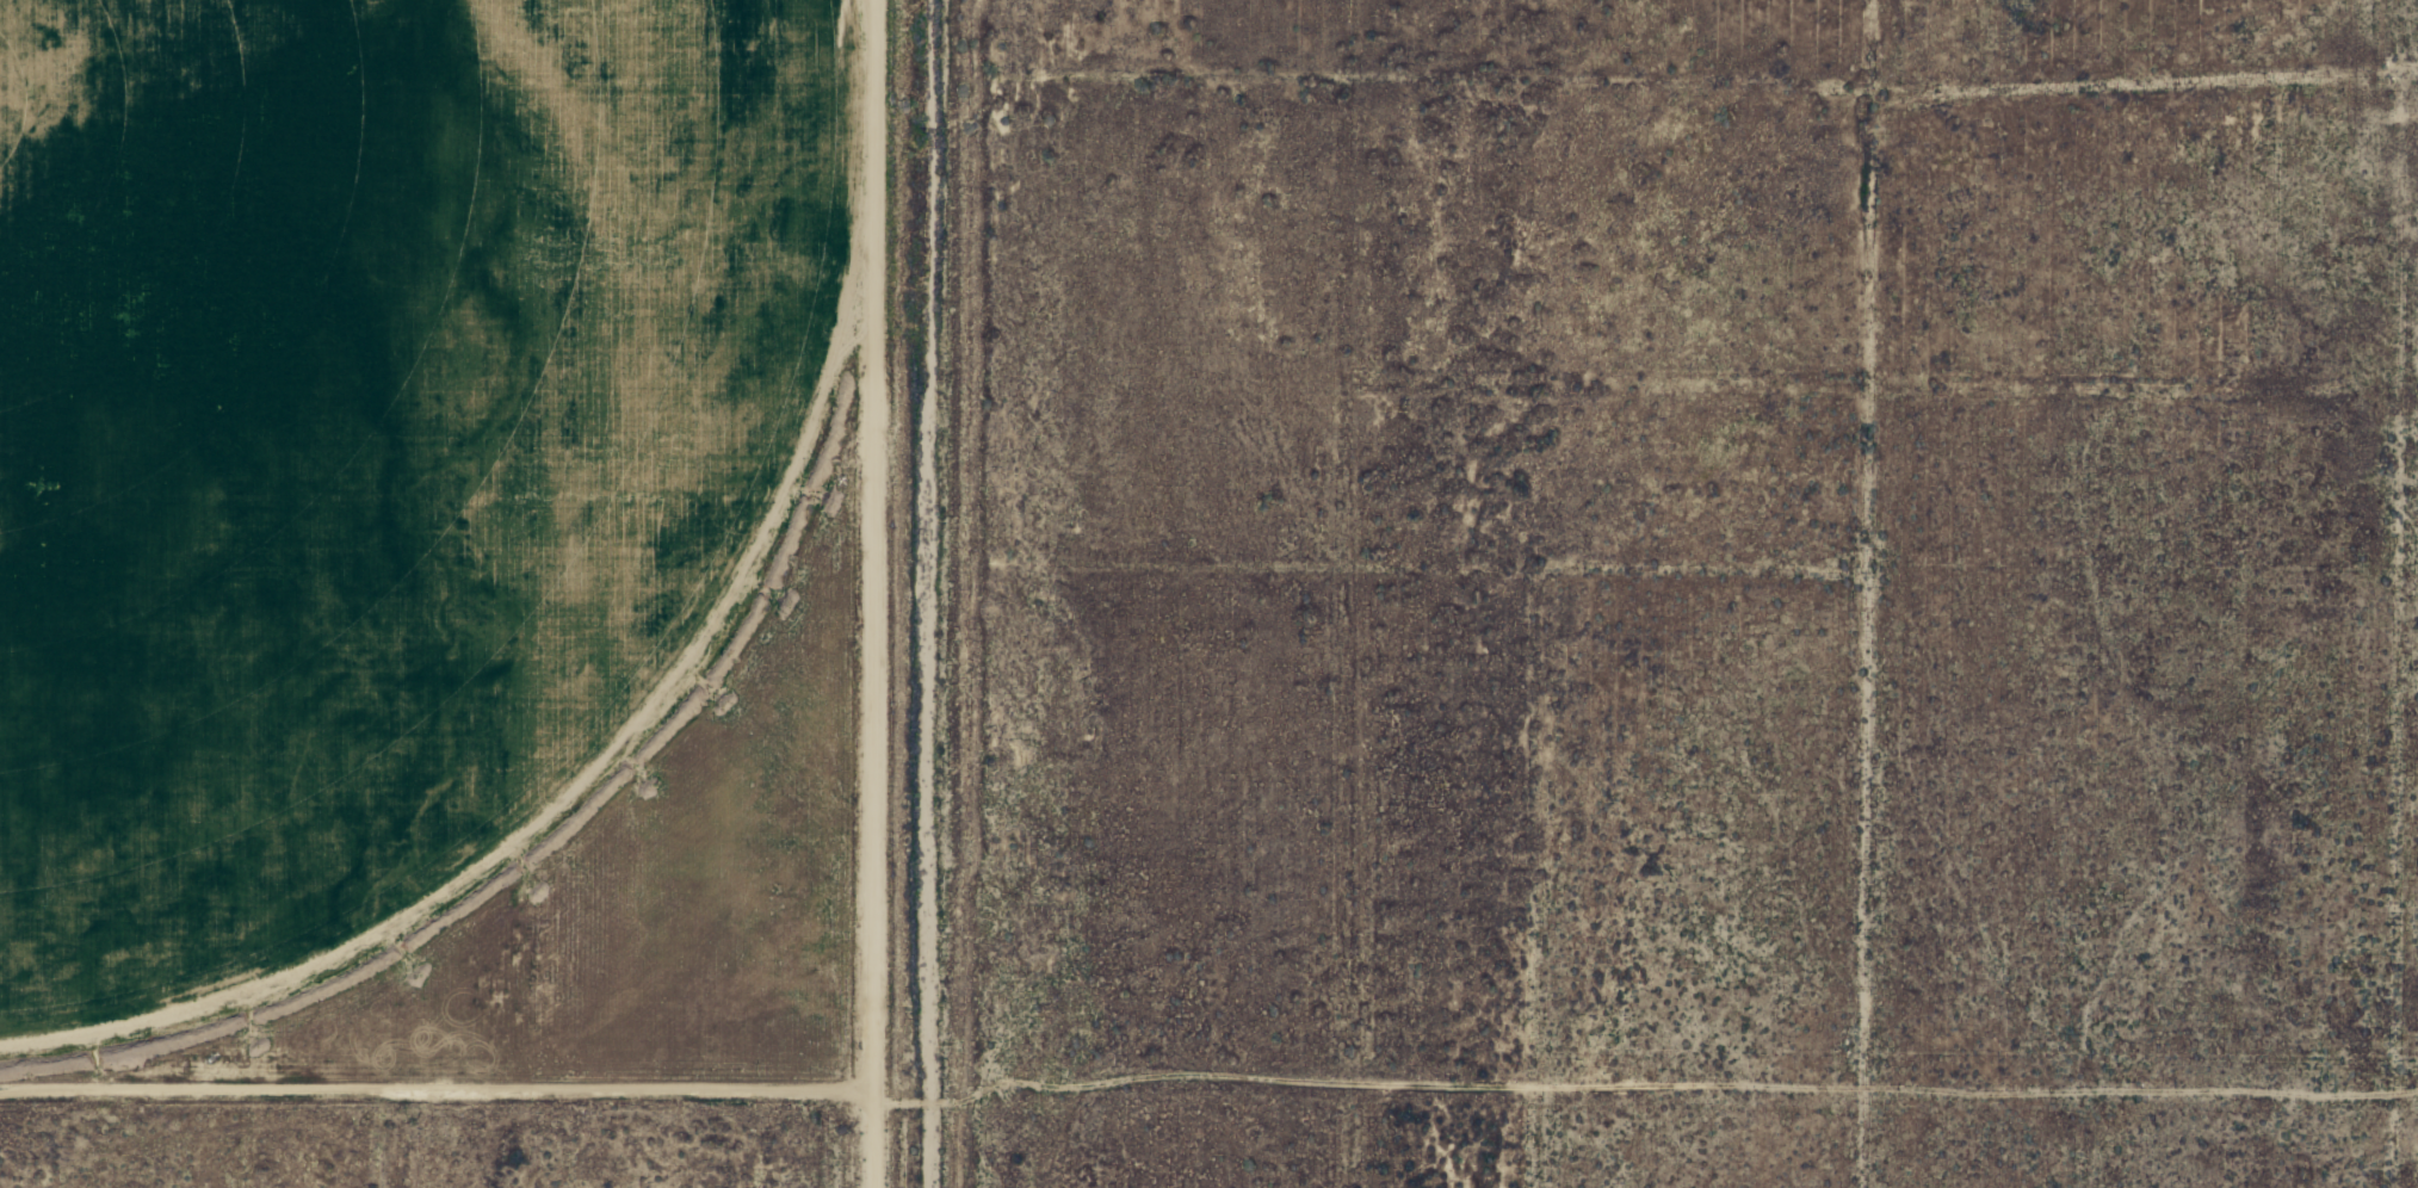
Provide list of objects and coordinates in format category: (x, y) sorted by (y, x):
crop: (428, 543)
road: (870, 593)

